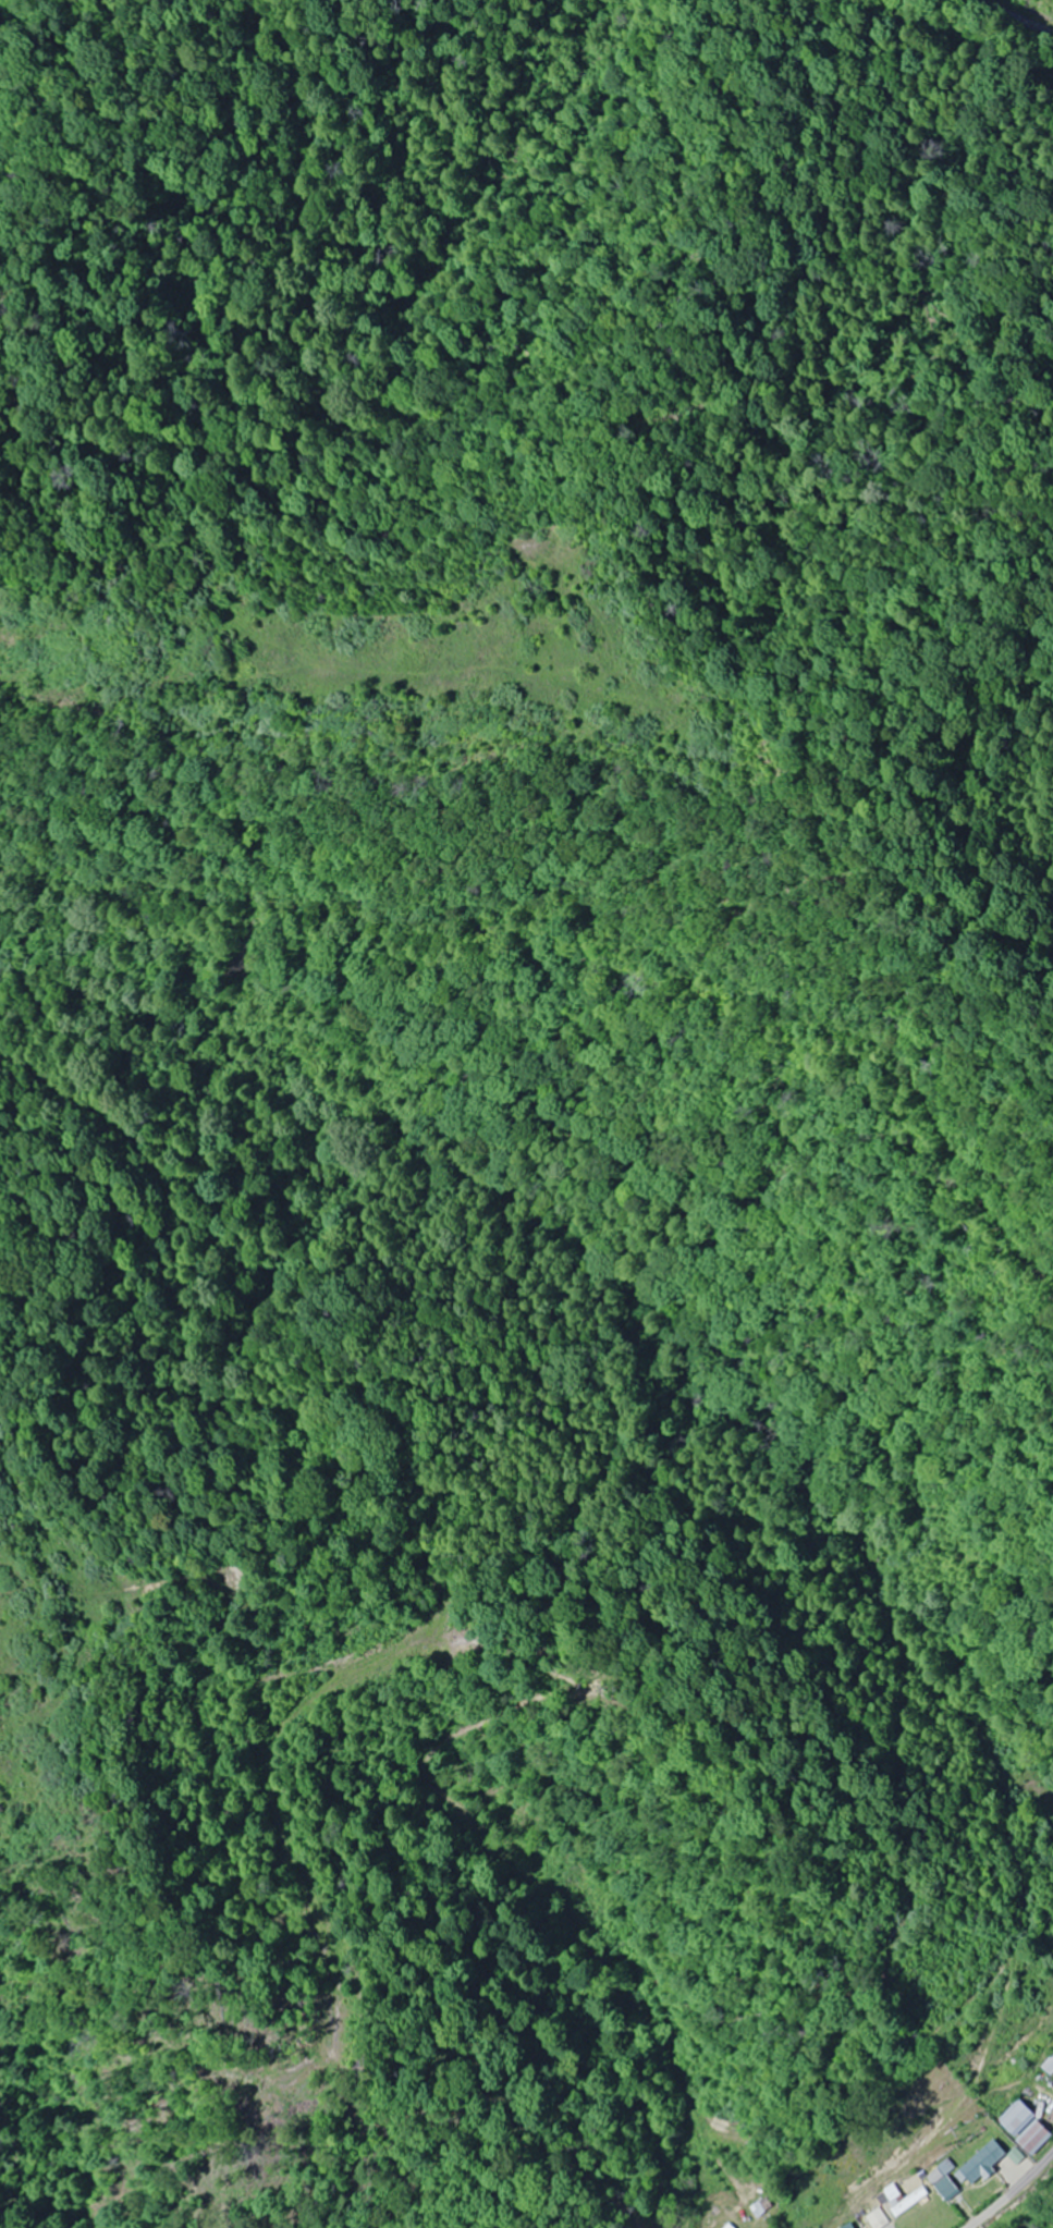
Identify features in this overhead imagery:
road: (952, 57)
road: (1049, 2115)
building: (1024, 2129)
building: (978, 2163)
road: (976, 2167)
building: (942, 2180)
building: (899, 2201)
building: (876, 2219)
building: (724, 2226)
building: (840, 2227)

